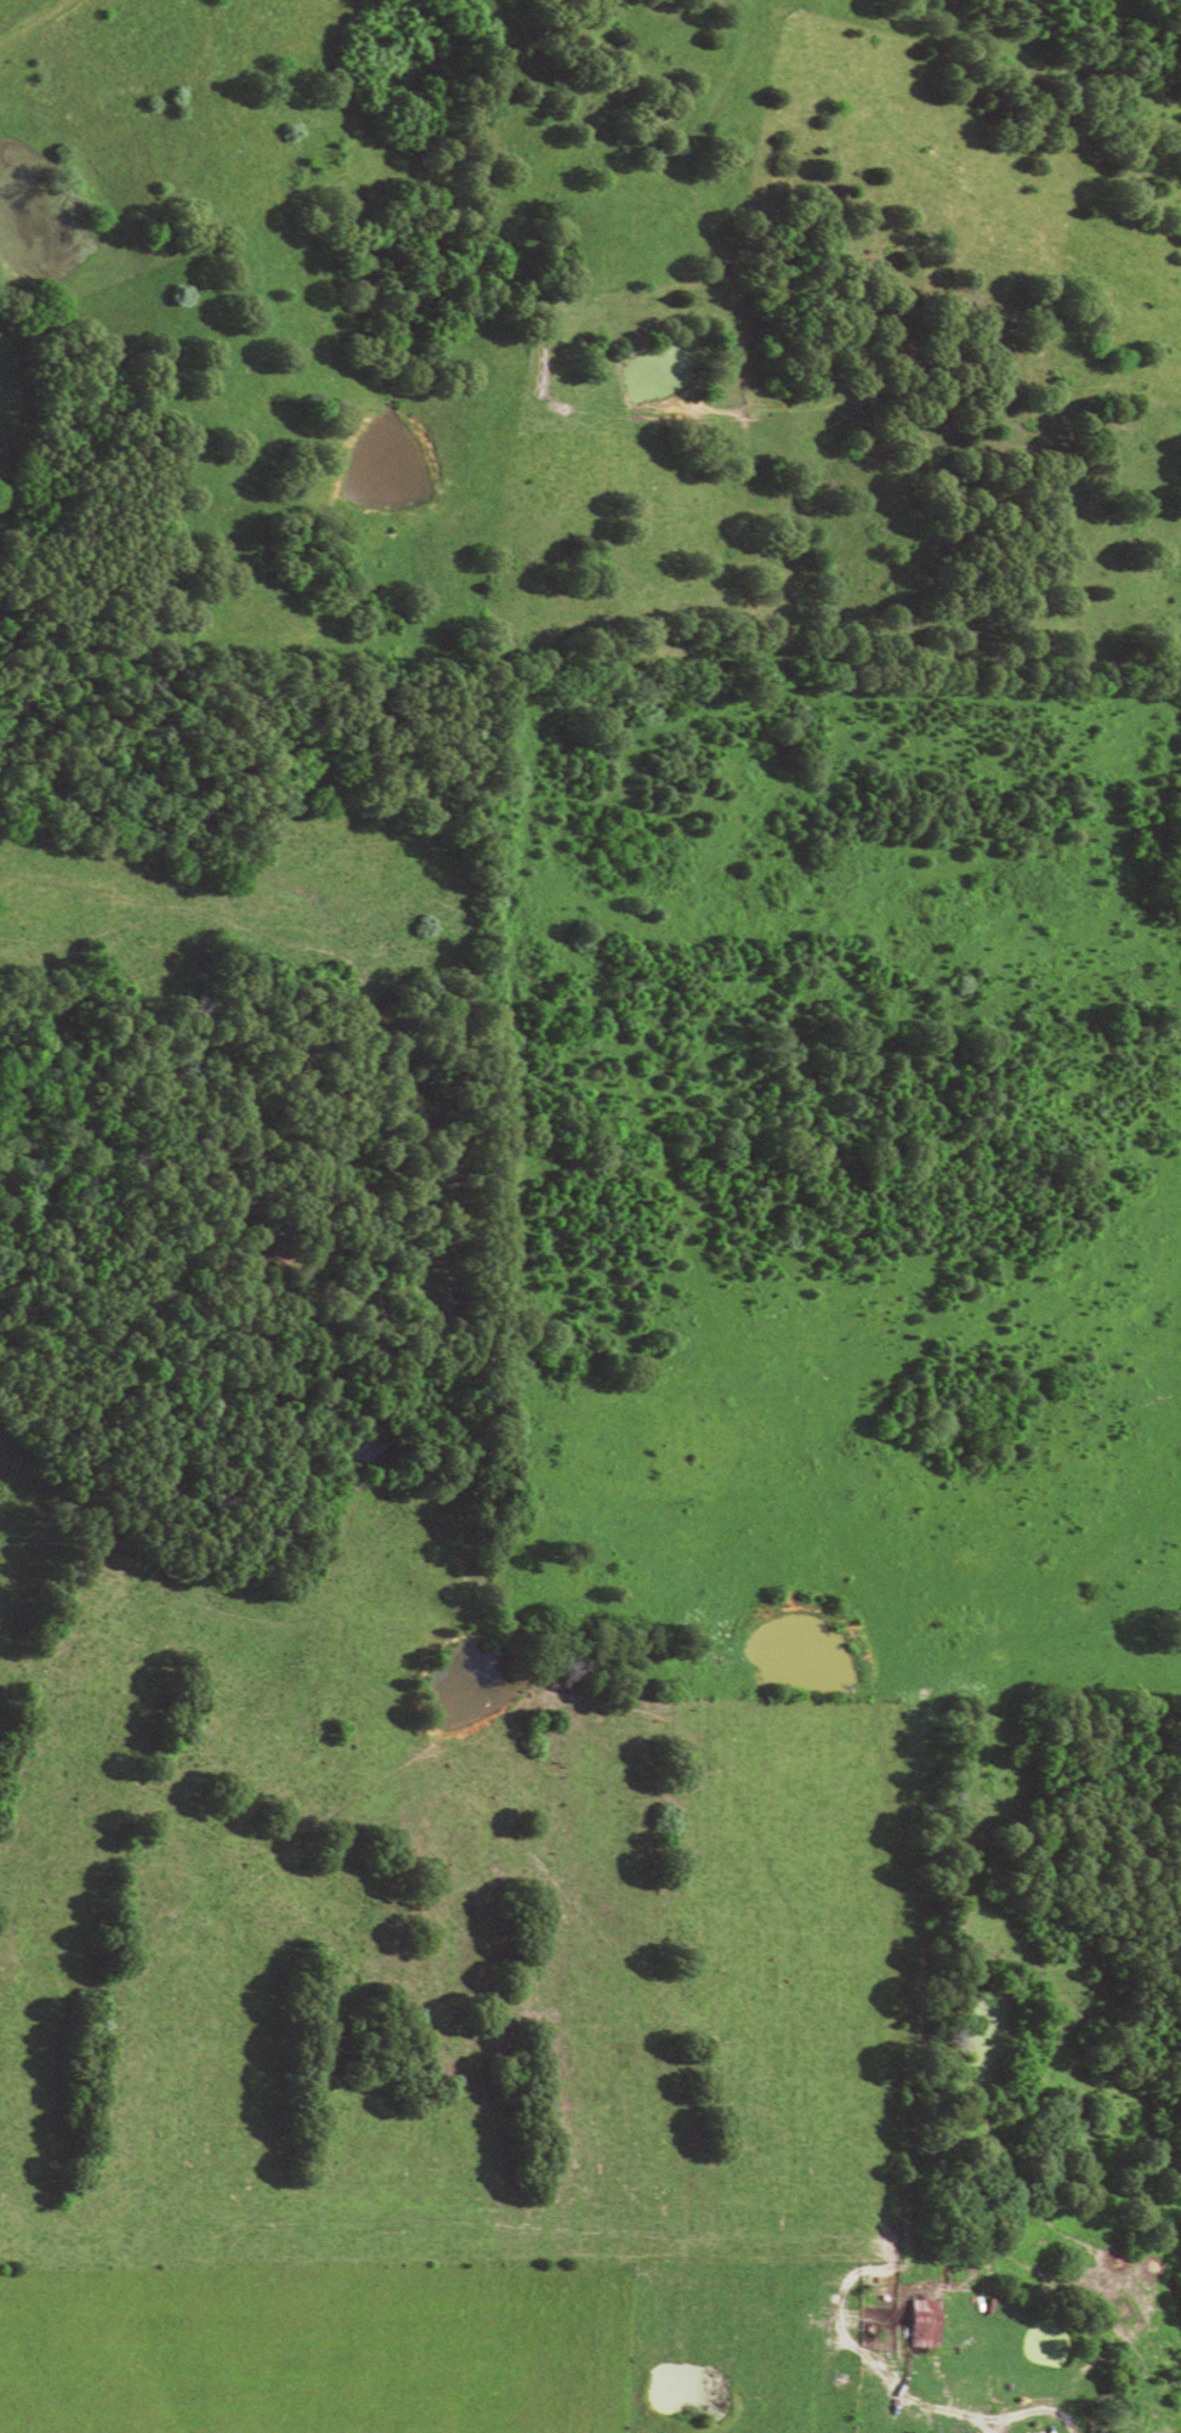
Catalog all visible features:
building: (921, 2329)

